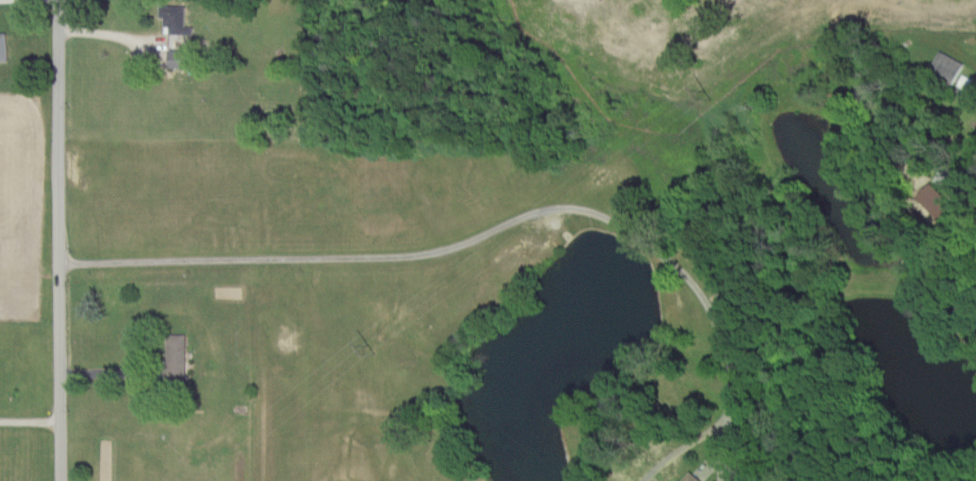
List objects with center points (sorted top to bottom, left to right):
road: (27, 3)
building: (173, 18)
road: (105, 32)
building: (2, 47)
building: (175, 57)
building: (946, 66)
road: (972, 81)
power tower: (705, 95)
road: (488, 237)
road: (57, 240)
power tower: (376, 345)
building: (174, 352)
road: (108, 367)
road: (29, 420)
building: (689, 477)

